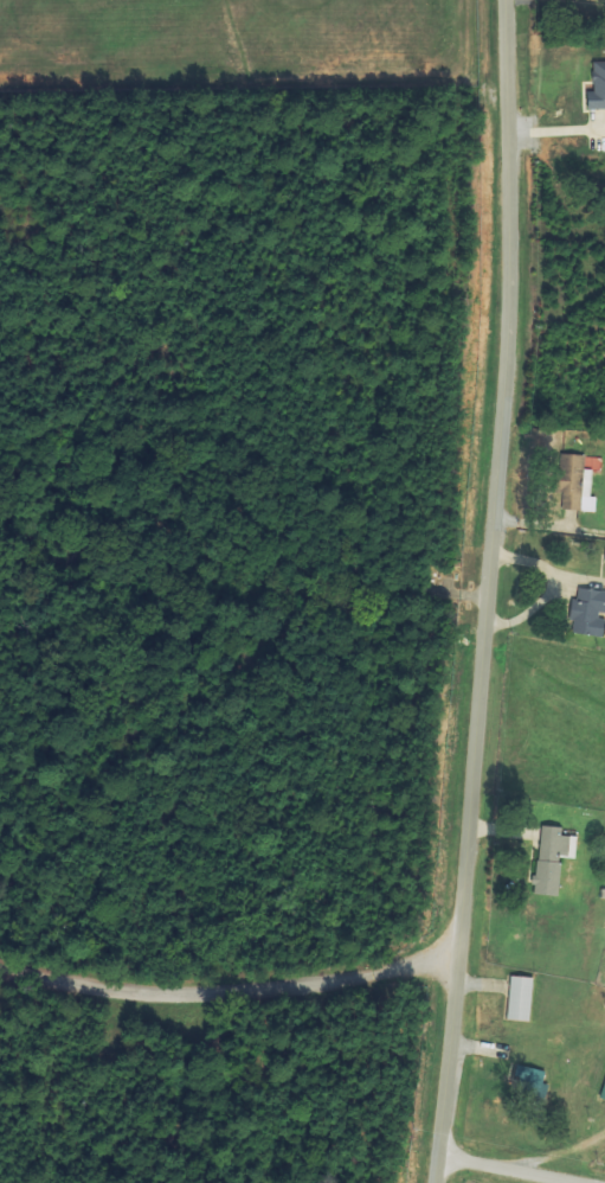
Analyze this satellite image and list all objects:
airport: (237, 46)
building: (597, 87)
building: (575, 484)
road: (488, 591)
building: (588, 612)
building: (552, 857)
road: (229, 997)
building: (520, 998)
building: (533, 1081)
building: (603, 1094)
road: (562, 1152)
road: (511, 1169)

